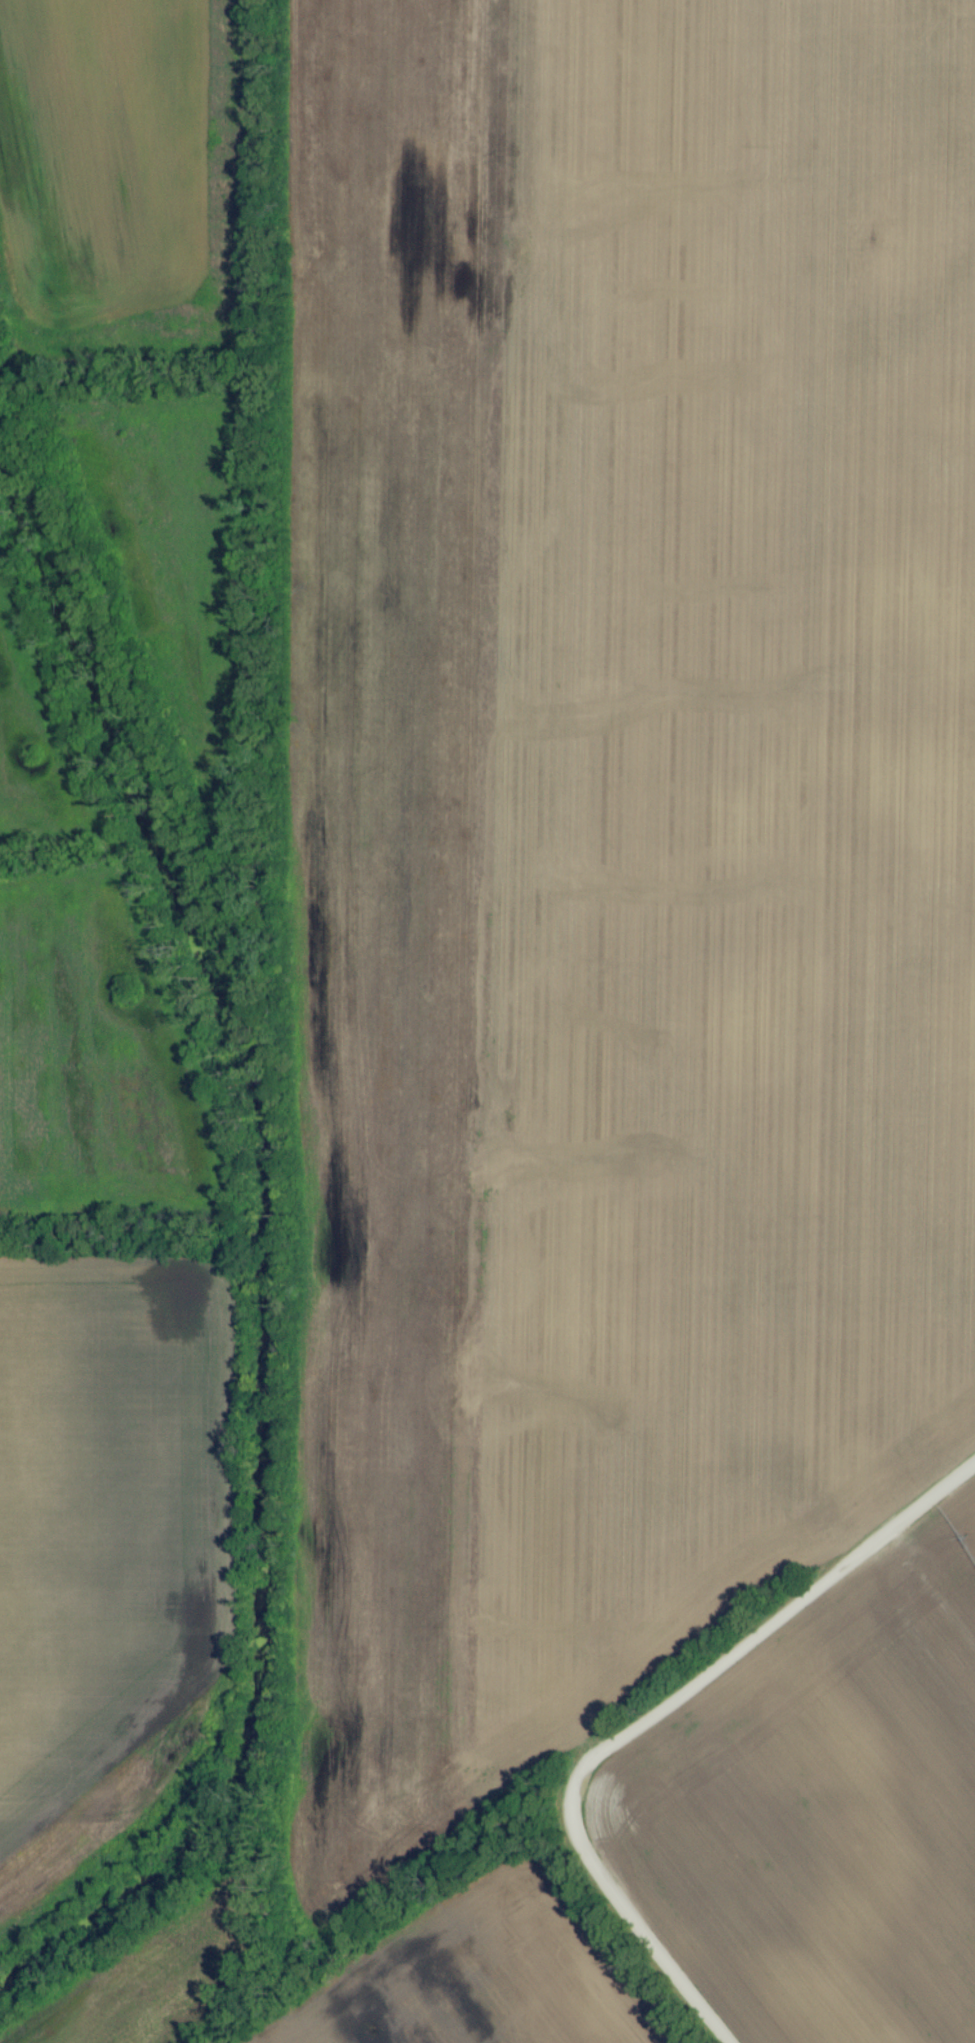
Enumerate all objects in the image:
road: (651, 1721)

